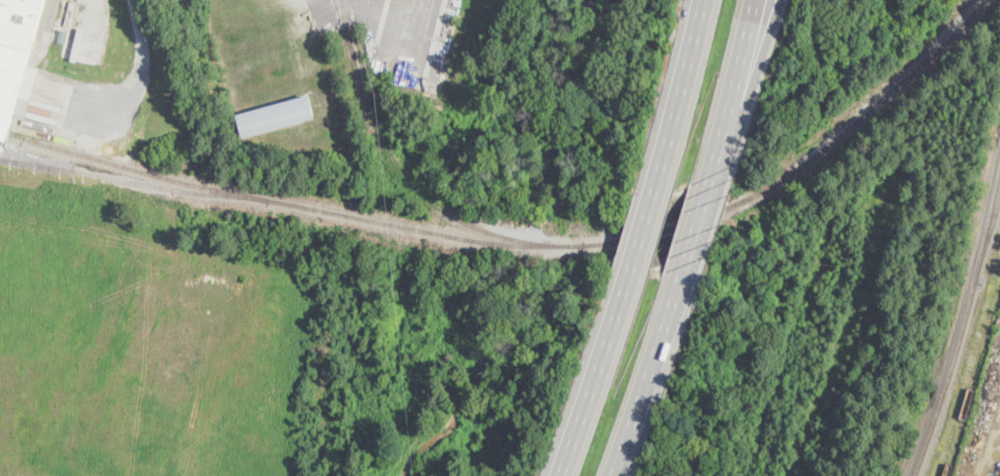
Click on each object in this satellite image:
railway: (342, 33)
building: (62, 36)
building: (17, 57)
road: (739, 71)
road: (748, 71)
road: (141, 74)
road: (682, 88)
building: (275, 116)
railway: (4, 129)
building: (1, 149)
railway: (398, 161)
railway: (126, 164)
road: (702, 210)
road: (644, 230)
railway: (988, 239)
railway: (529, 243)
railway: (963, 324)
road: (649, 377)
road: (595, 380)
railway: (949, 453)

